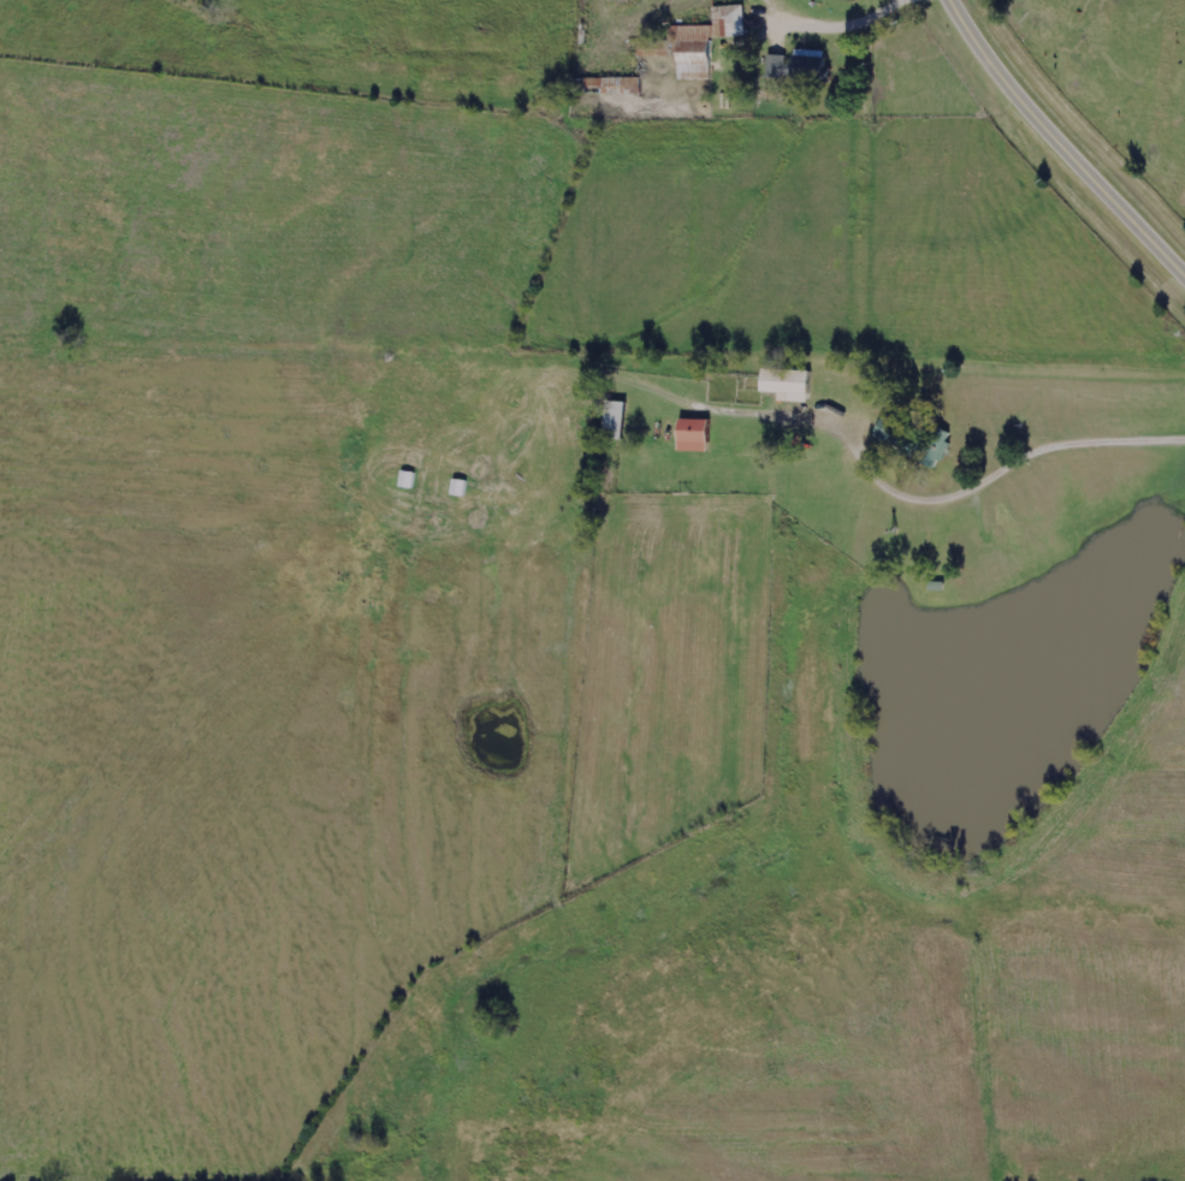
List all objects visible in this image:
road: (819, 22)
building: (728, 23)
building: (694, 57)
building: (618, 85)
road: (1060, 140)
building: (787, 384)
building: (615, 421)
building: (893, 431)
building: (695, 435)
building: (936, 444)
road: (1011, 455)
building: (789, 489)

